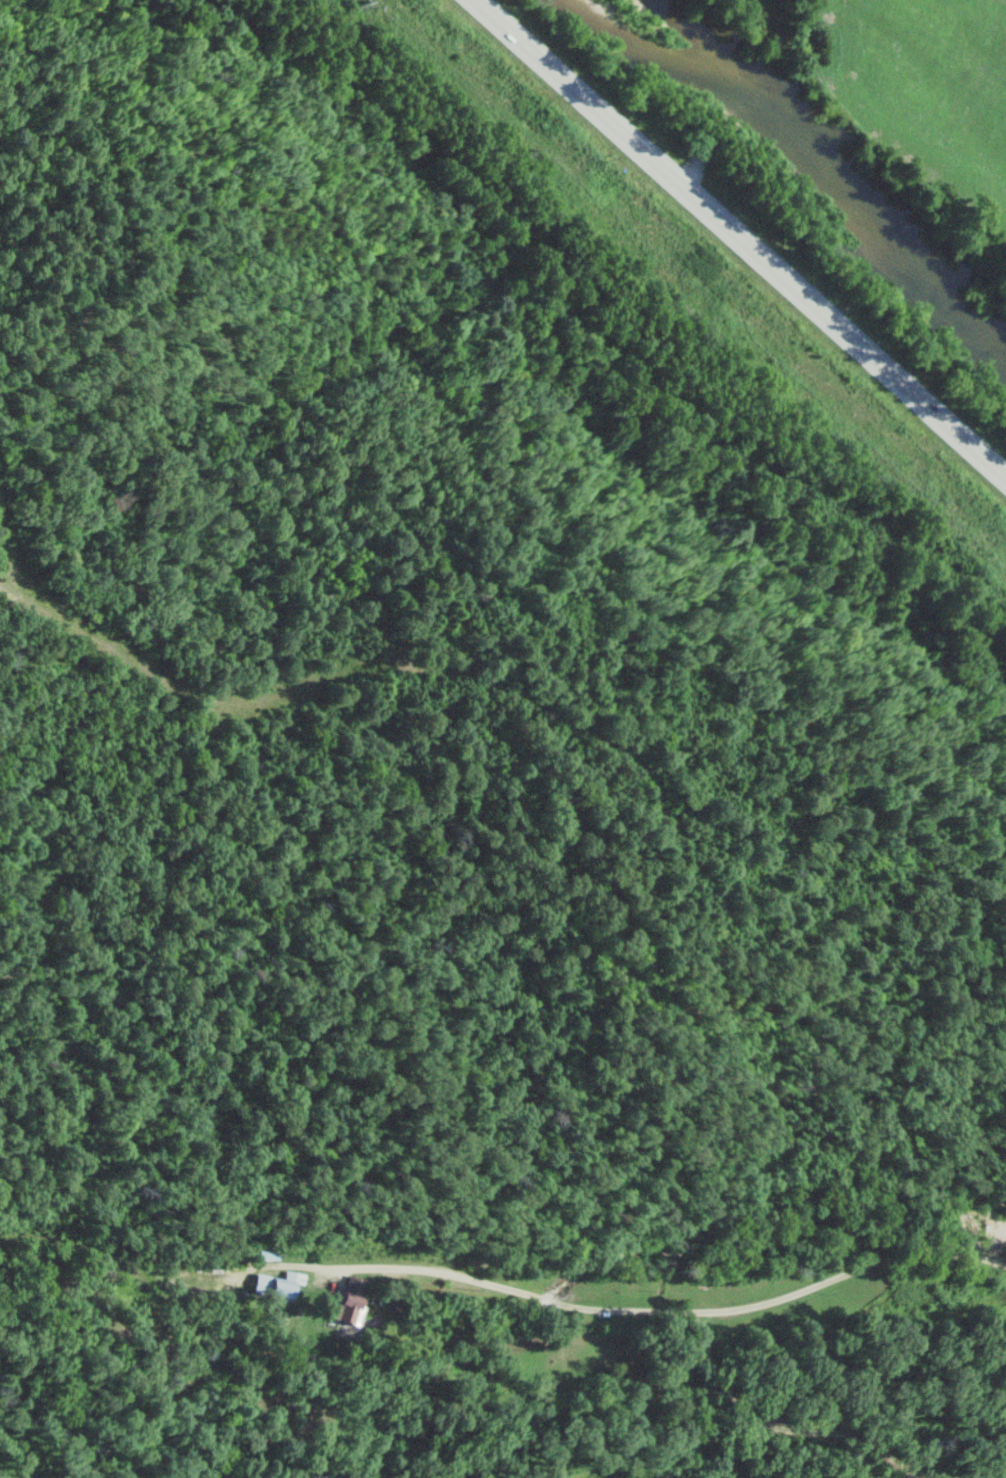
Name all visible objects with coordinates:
river: (822, 158)
road: (742, 238)
building: (273, 1284)
building: (346, 1299)
road: (641, 1305)

